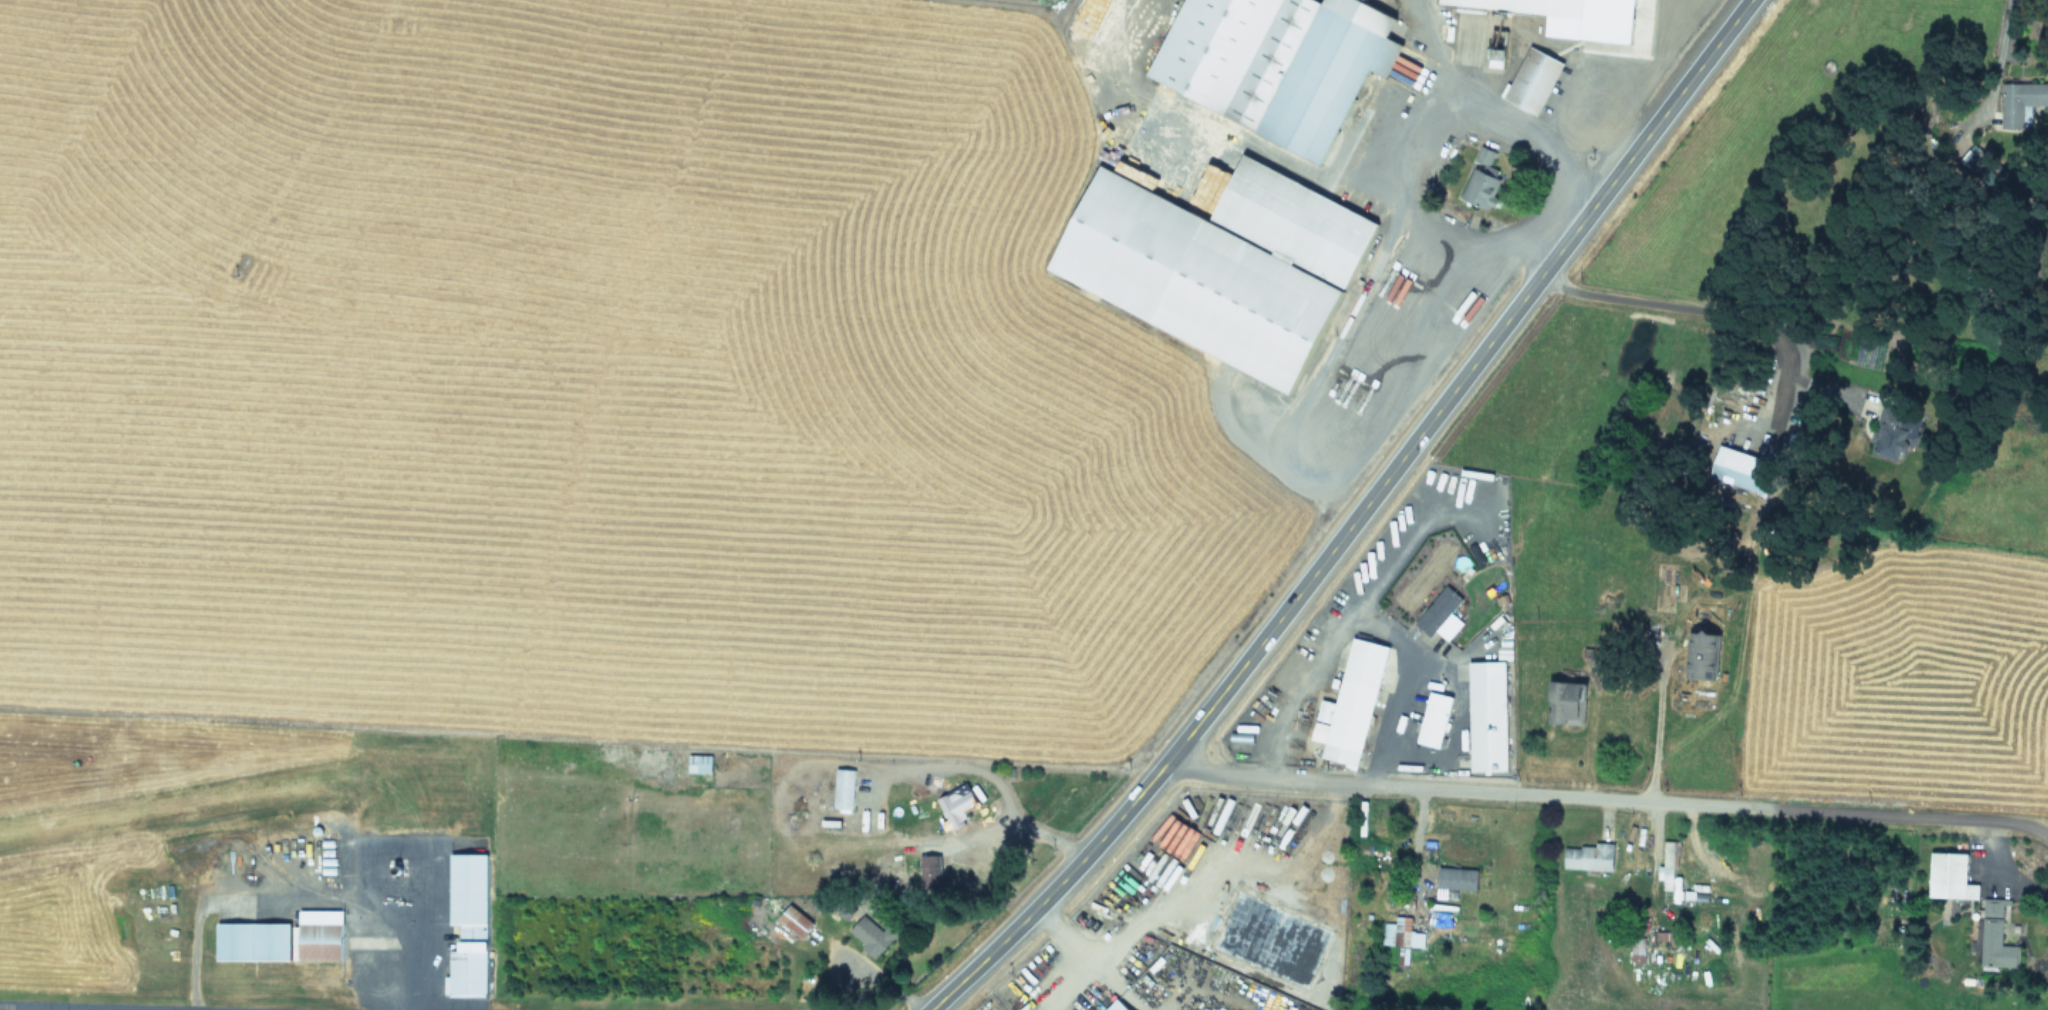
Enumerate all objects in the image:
building: (1527, 6)
road: (1431, 48)
road: (1102, 51)
road: (2002, 53)
building: (1280, 63)
building: (1534, 81)
building: (2021, 103)
road: (1600, 125)
road: (1577, 166)
road: (1384, 177)
building: (1484, 185)
road: (1547, 209)
building: (1222, 266)
road: (1675, 303)
crop: (710, 354)
road: (1370, 418)
building: (1885, 432)
building: (1742, 471)
road: (1357, 518)
building: (1442, 617)
road: (1355, 620)
building: (1702, 656)
building: (1354, 705)
building: (1568, 705)
building: (1489, 718)
building: (1436, 722)
road: (1652, 745)
building: (700, 766)
building: (844, 791)
road: (1609, 801)
building: (961, 803)
building: (1365, 852)
building: (1589, 858)
building: (1670, 867)
road: (2001, 870)
building: (1952, 878)
building: (1457, 881)
crop: (1710, 886)
airport: (274, 893)
airport apron: (391, 921)
building: (467, 921)
building: (796, 922)
building: (319, 932)
building: (1402, 935)
building: (252, 938)
building: (873, 938)
building: (1996, 939)
building: (1118, 1006)
airport runway: (77, 1007)

